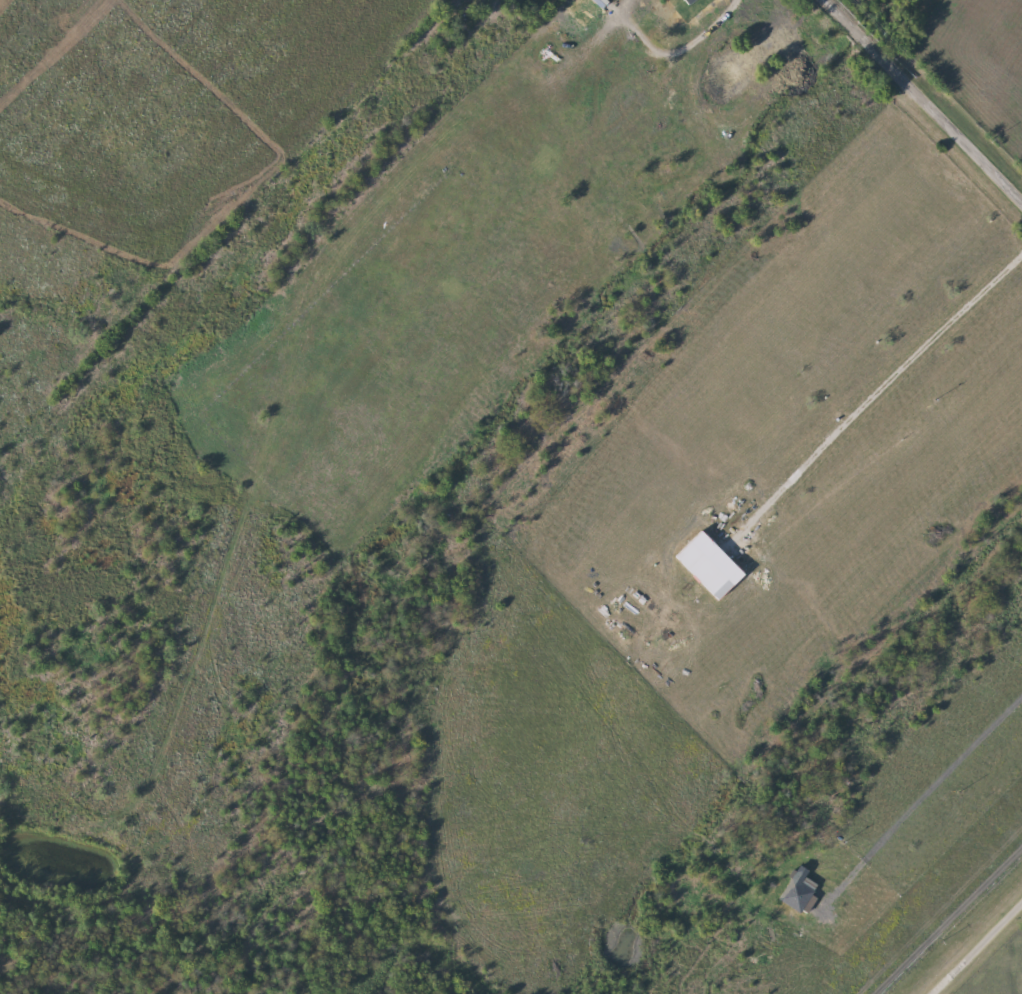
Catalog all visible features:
road: (926, 98)
road: (872, 395)
road: (919, 796)
road: (976, 947)

